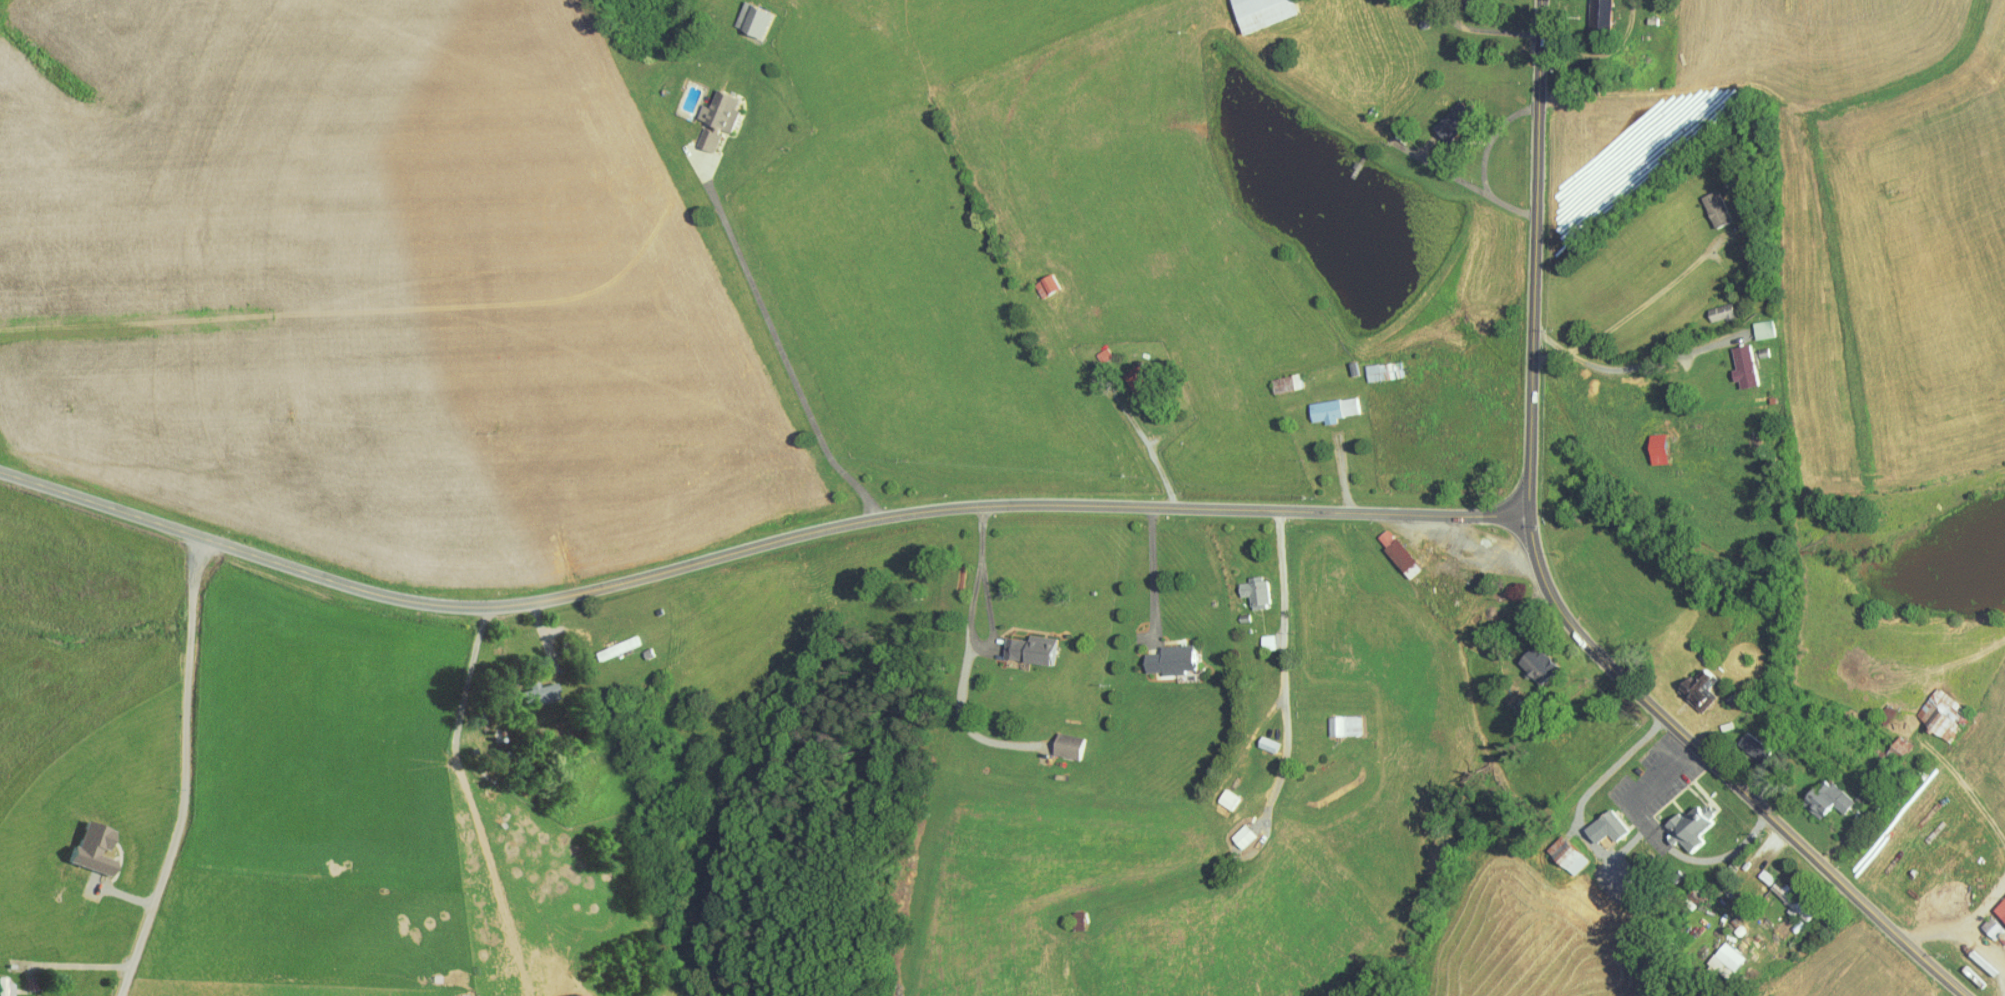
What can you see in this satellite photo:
building: (1254, 10)
building: (1592, 10)
building: (744, 14)
building: (712, 104)
building: (1444, 115)
building: (699, 133)
building: (1707, 203)
road: (1536, 255)
building: (1038, 279)
road: (1647, 301)
building: (1713, 306)
building: (1755, 323)
building: (1736, 360)
road: (1640, 364)
road: (748, 365)
building: (1375, 365)
building: (1277, 377)
building: (1324, 403)
building: (1650, 443)
road: (753, 546)
building: (1390, 547)
building: (1247, 585)
building: (1259, 636)
building: (609, 640)
building: (1023, 643)
building: (1163, 654)
building: (1532, 658)
road: (1286, 664)
building: (1690, 682)
building: (525, 686)
building: (1934, 707)
building: (1336, 718)
building: (1259, 736)
building: (1060, 739)
building: (1746, 739)
building: (1889, 742)
road: (188, 770)
road: (1723, 770)
building: (1219, 792)
building: (1820, 792)
building: (1598, 820)
building: (1681, 820)
building: (1235, 829)
building: (82, 841)
building: (1558, 847)
building: (1757, 869)
building: (1783, 894)
building: (1998, 901)
building: (1718, 953)
building: (0, 983)
building: (561, 992)

